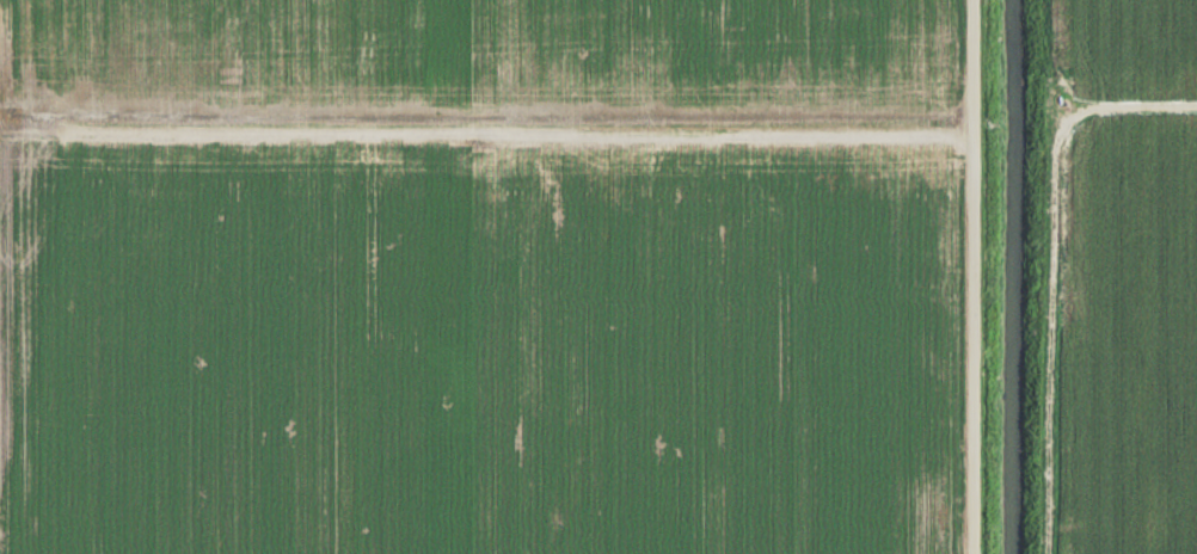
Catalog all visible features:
road: (972, 277)

